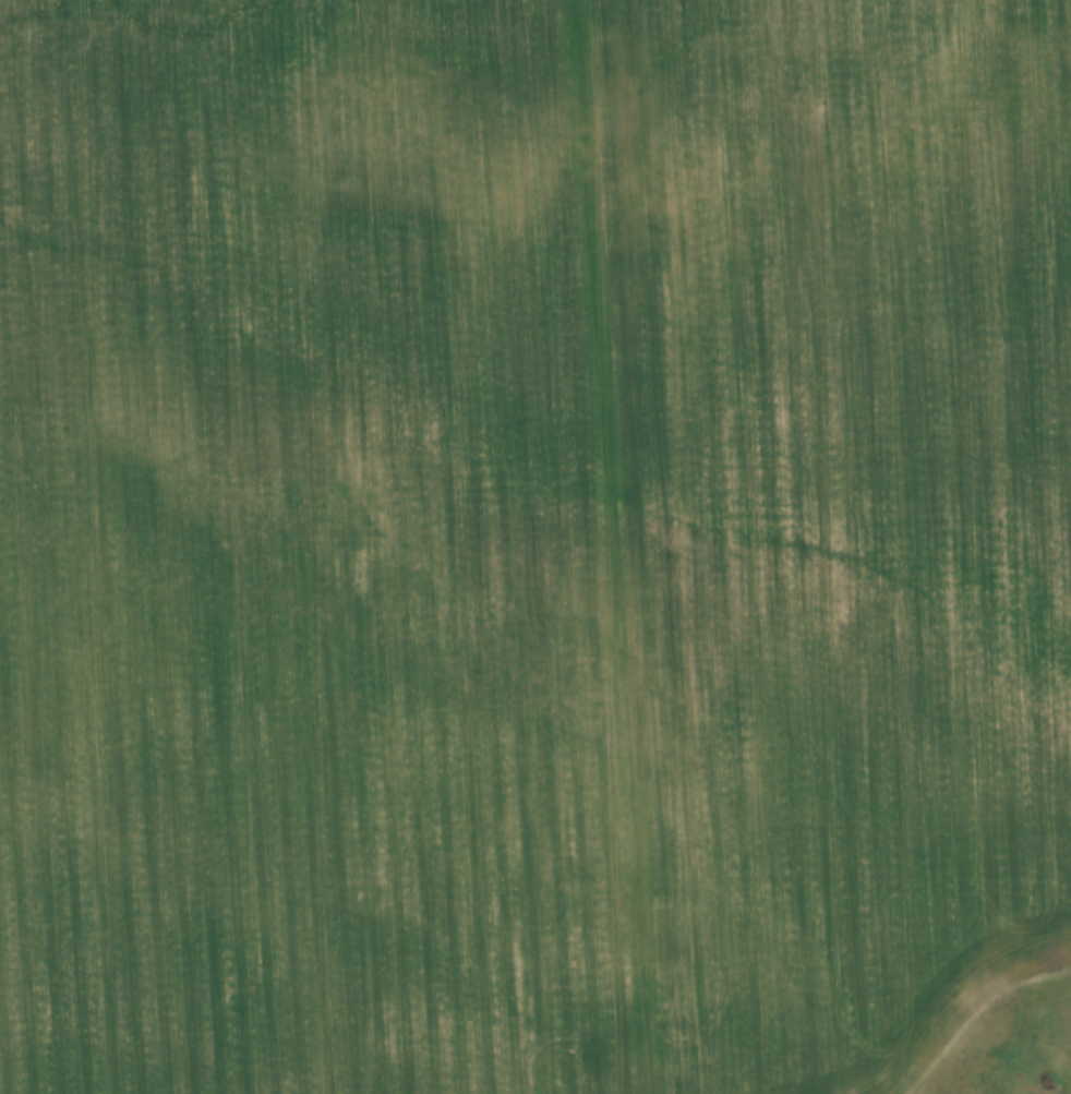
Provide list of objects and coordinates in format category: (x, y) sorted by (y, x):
road: (845, 546)

